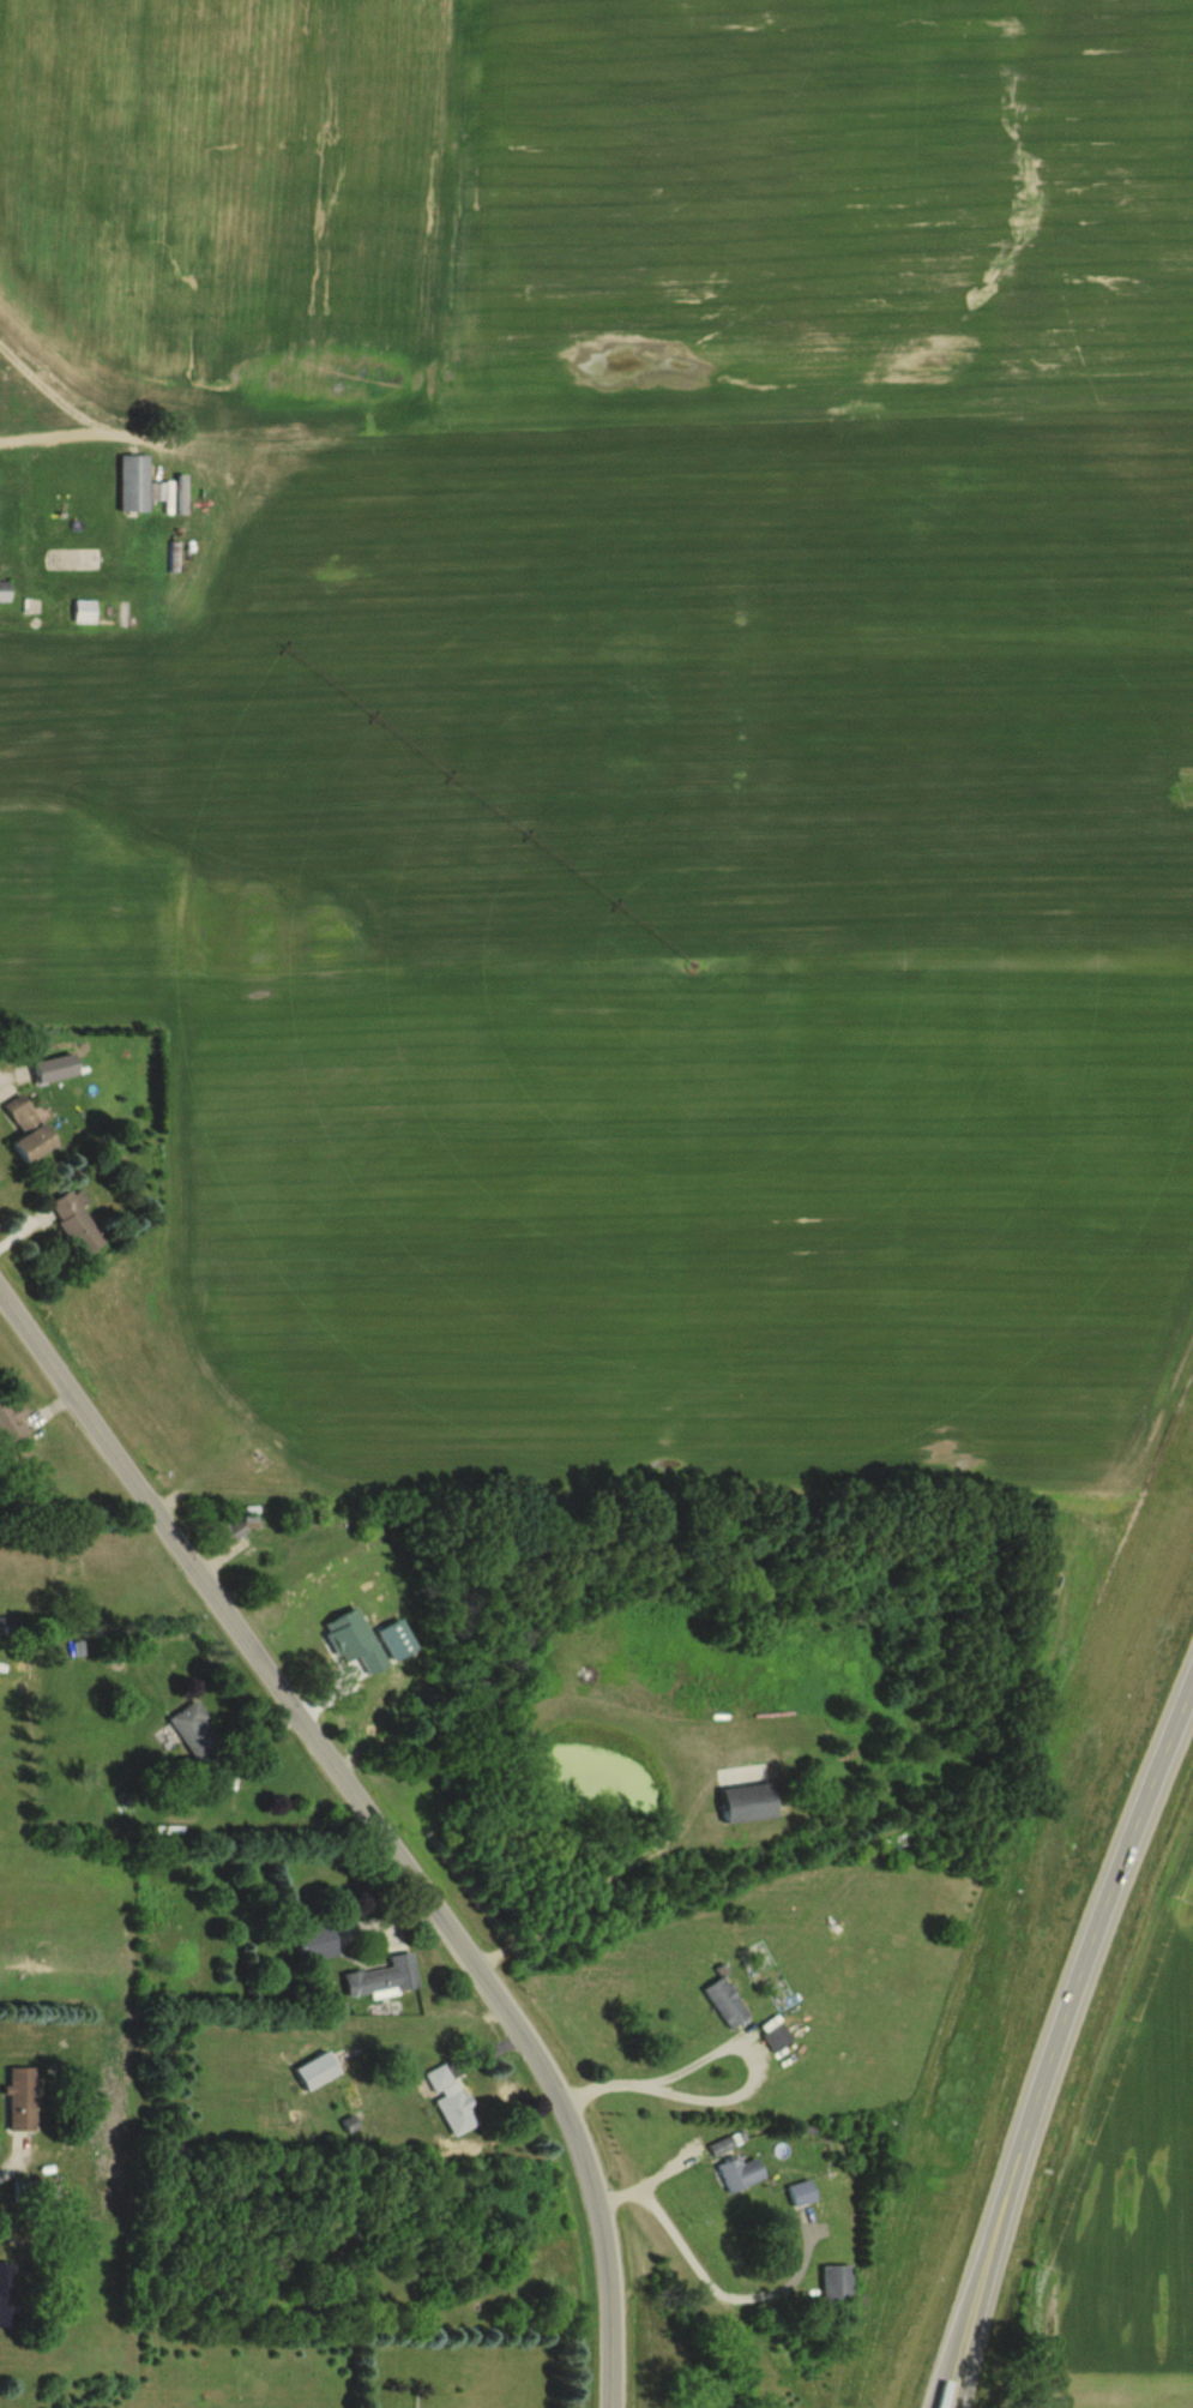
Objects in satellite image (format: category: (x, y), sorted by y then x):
crop: (607, 205)
road: (85, 422)
building: (133, 484)
building: (4, 592)
building: (97, 612)
crop: (665, 944)
building: (28, 1130)
building: (74, 1223)
building: (11, 1422)
building: (230, 1533)
building: (355, 1705)
building: (195, 1733)
building: (748, 1805)
road: (375, 1827)
road: (582, 1903)
building: (314, 1942)
building: (381, 1978)
building: (724, 2004)
building: (776, 2037)
road: (1070, 2055)
building: (315, 2071)
road: (735, 2094)
building: (19, 2098)
building: (448, 2098)
building: (721, 2146)
building: (739, 2174)
road: (705, 2282)
building: (836, 2283)
building: (5, 2293)

